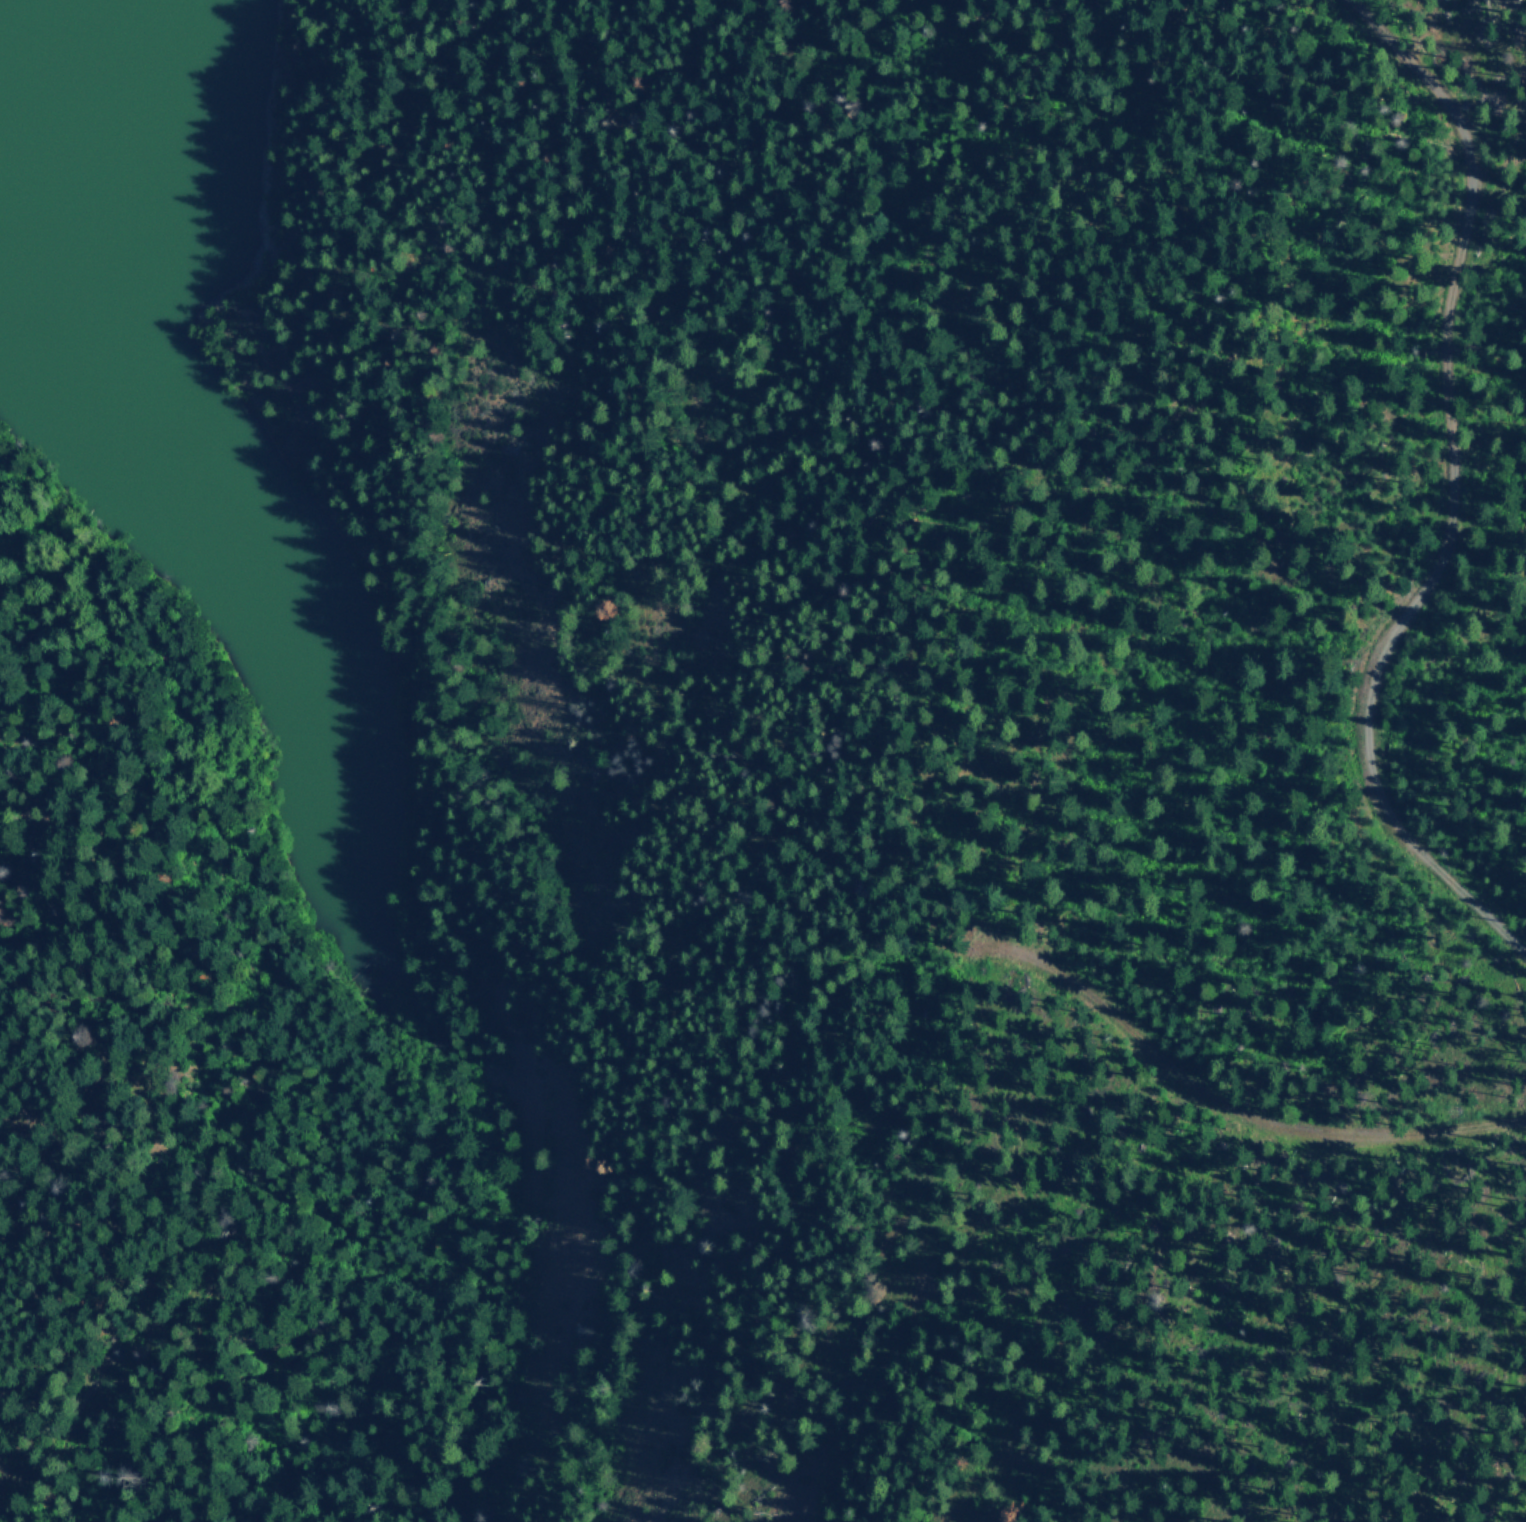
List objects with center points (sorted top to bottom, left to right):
road: (1453, 498)
road: (1228, 1106)

